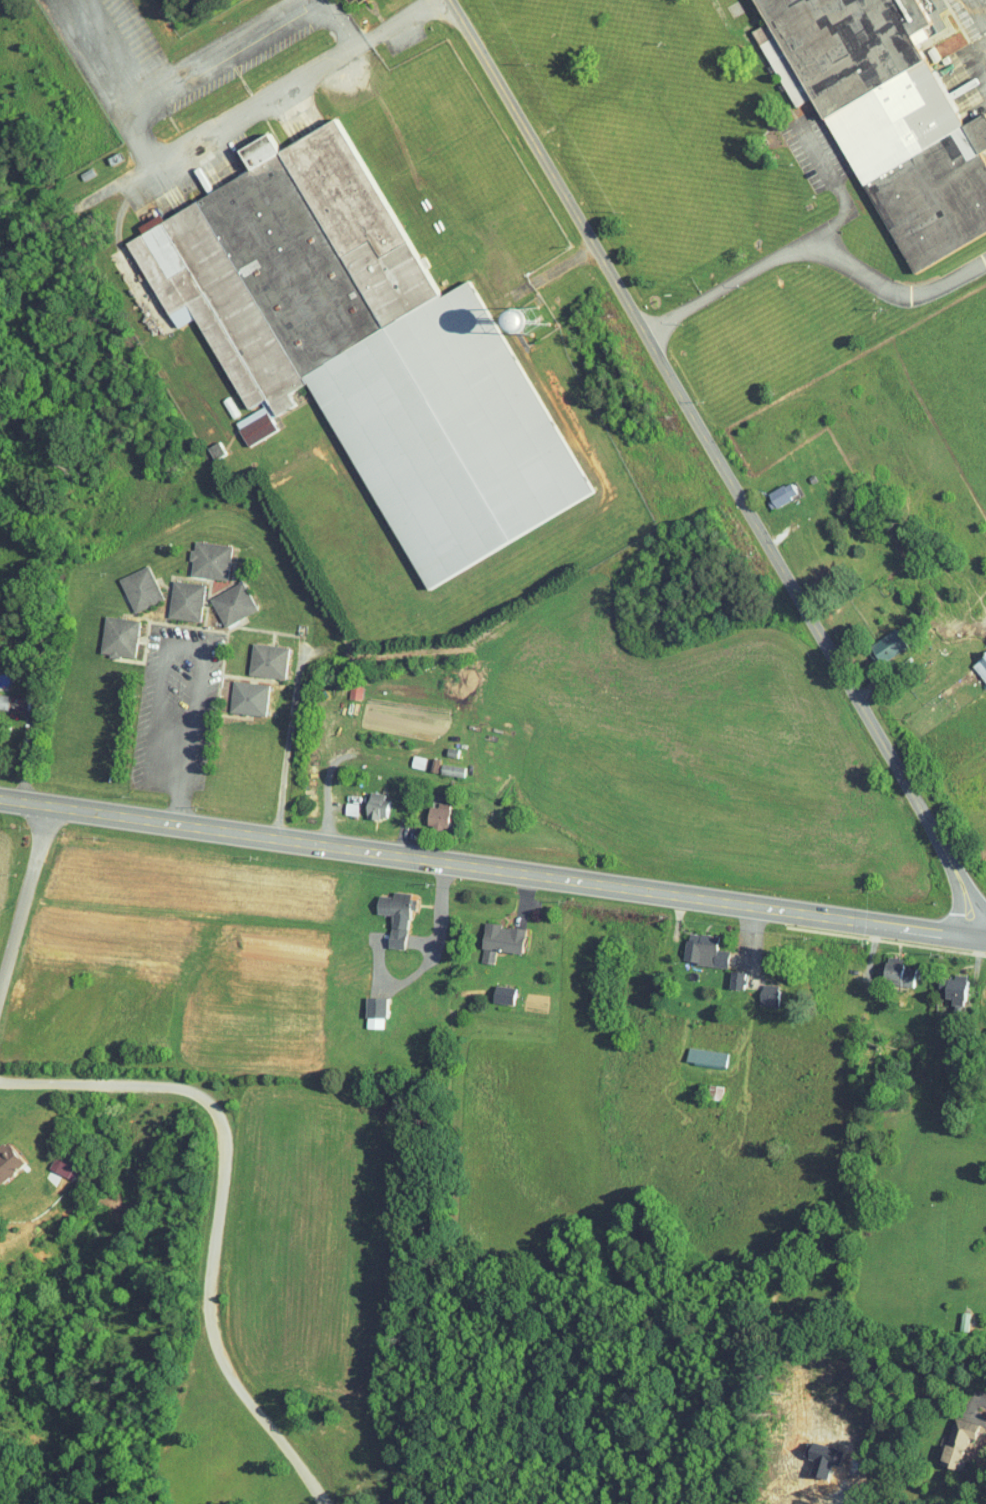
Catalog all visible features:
building: (333, 0)
building: (880, 117)
road: (814, 242)
building: (492, 316)
building: (351, 342)
building: (203, 445)
road: (720, 466)
building: (768, 489)
building: (196, 554)
building: (127, 582)
building: (172, 594)
building: (219, 597)
building: (105, 630)
building: (874, 639)
road: (165, 646)
building: (254, 654)
building: (975, 659)
building: (235, 691)
road: (288, 745)
building: (404, 756)
building: (438, 763)
building: (363, 799)
road: (332, 801)
building: (337, 802)
road: (180, 806)
building: (424, 809)
road: (243, 837)
road: (23, 896)
road: (730, 904)
building: (382, 910)
building: (487, 935)
road: (979, 937)
building: (690, 944)
building: (886, 965)
building: (723, 973)
building: (940, 982)
building: (490, 988)
building: (755, 989)
building: (361, 1006)
building: (693, 1050)
building: (2, 1159)
building: (47, 1161)
road: (217, 1212)
road: (972, 1410)
building: (944, 1437)

